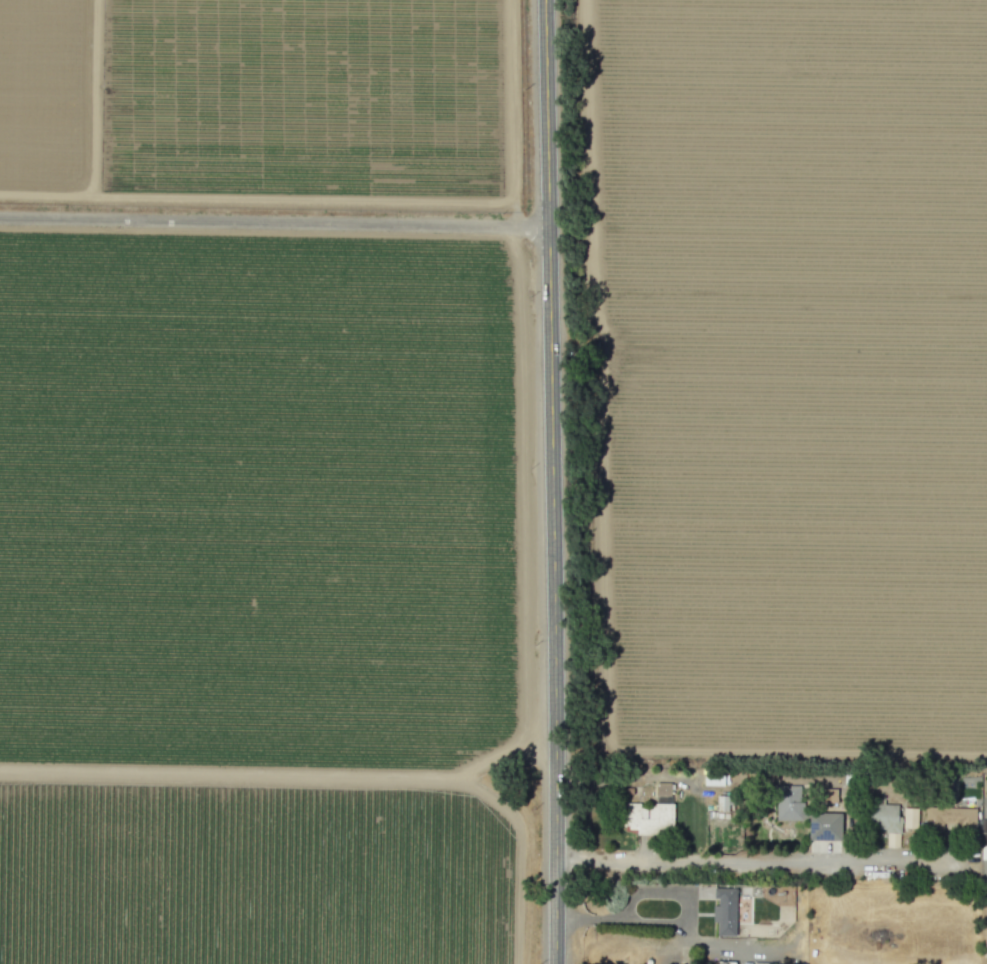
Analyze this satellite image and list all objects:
road: (274, 221)
road: (551, 481)
building: (713, 777)
building: (662, 789)
building: (827, 795)
building: (789, 803)
building: (648, 818)
building: (910, 818)
building: (949, 818)
building: (885, 820)
building: (824, 826)
road: (762, 864)
building: (725, 908)
road: (671, 920)
road: (732, 946)
building: (758, 963)

